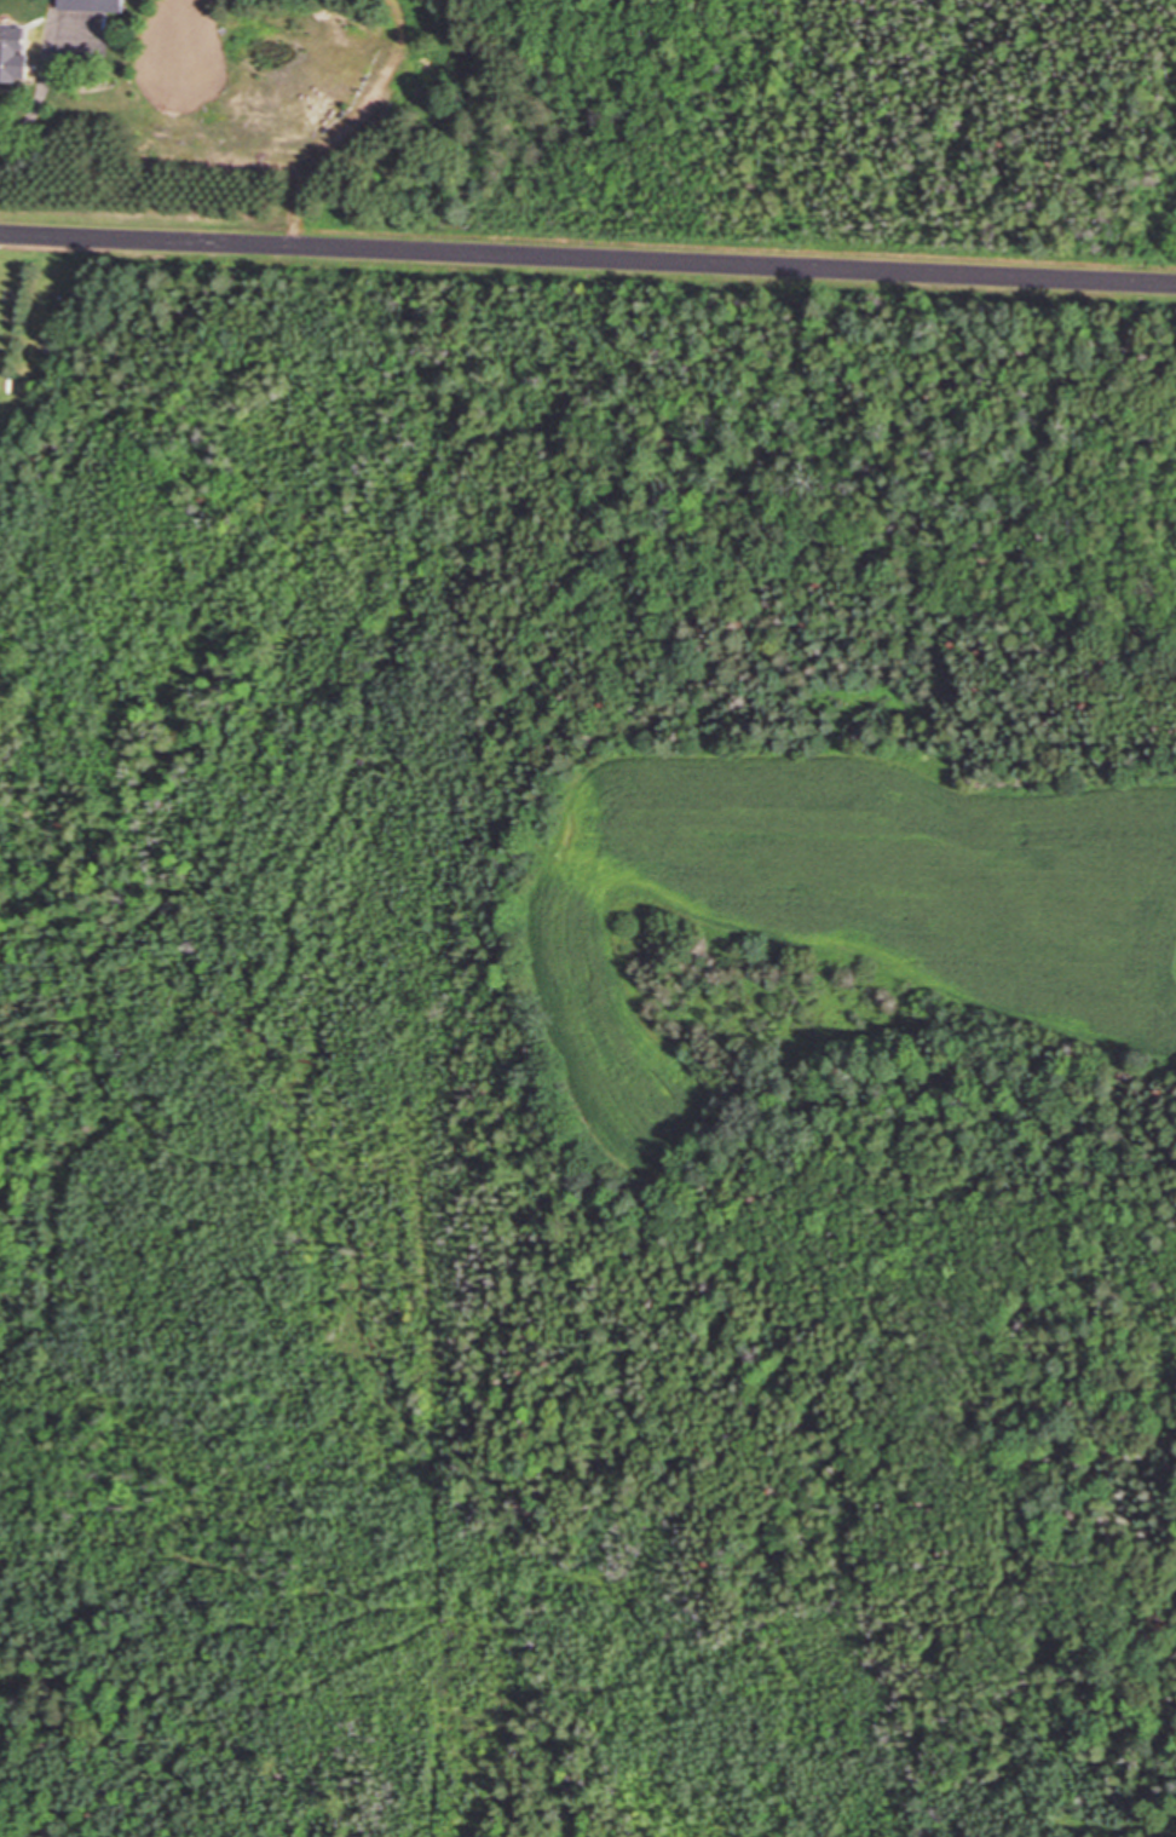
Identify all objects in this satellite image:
building: (100, 6)
building: (17, 39)
road: (587, 260)

